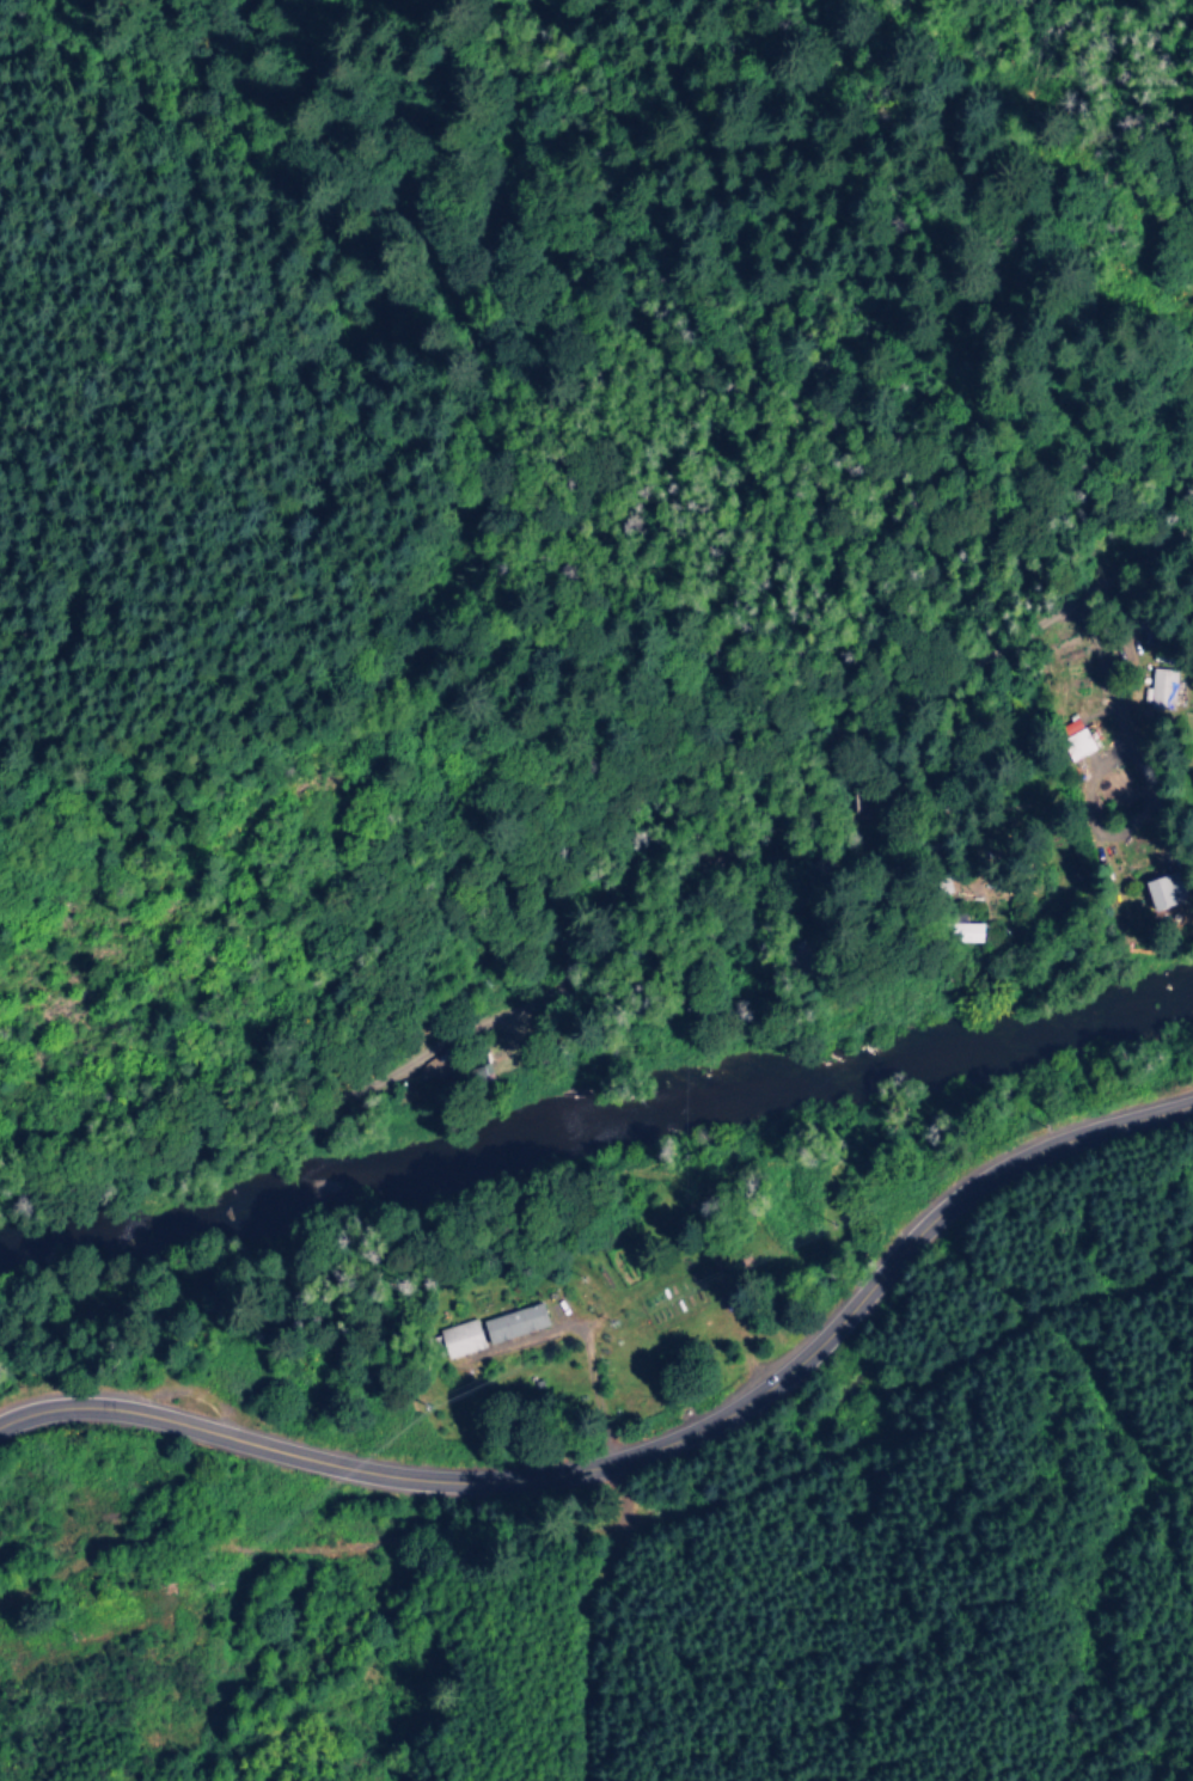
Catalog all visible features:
building: (1156, 893)
road: (648, 938)
river: (595, 1125)
building: (510, 1322)
building: (457, 1338)
road: (647, 1450)

